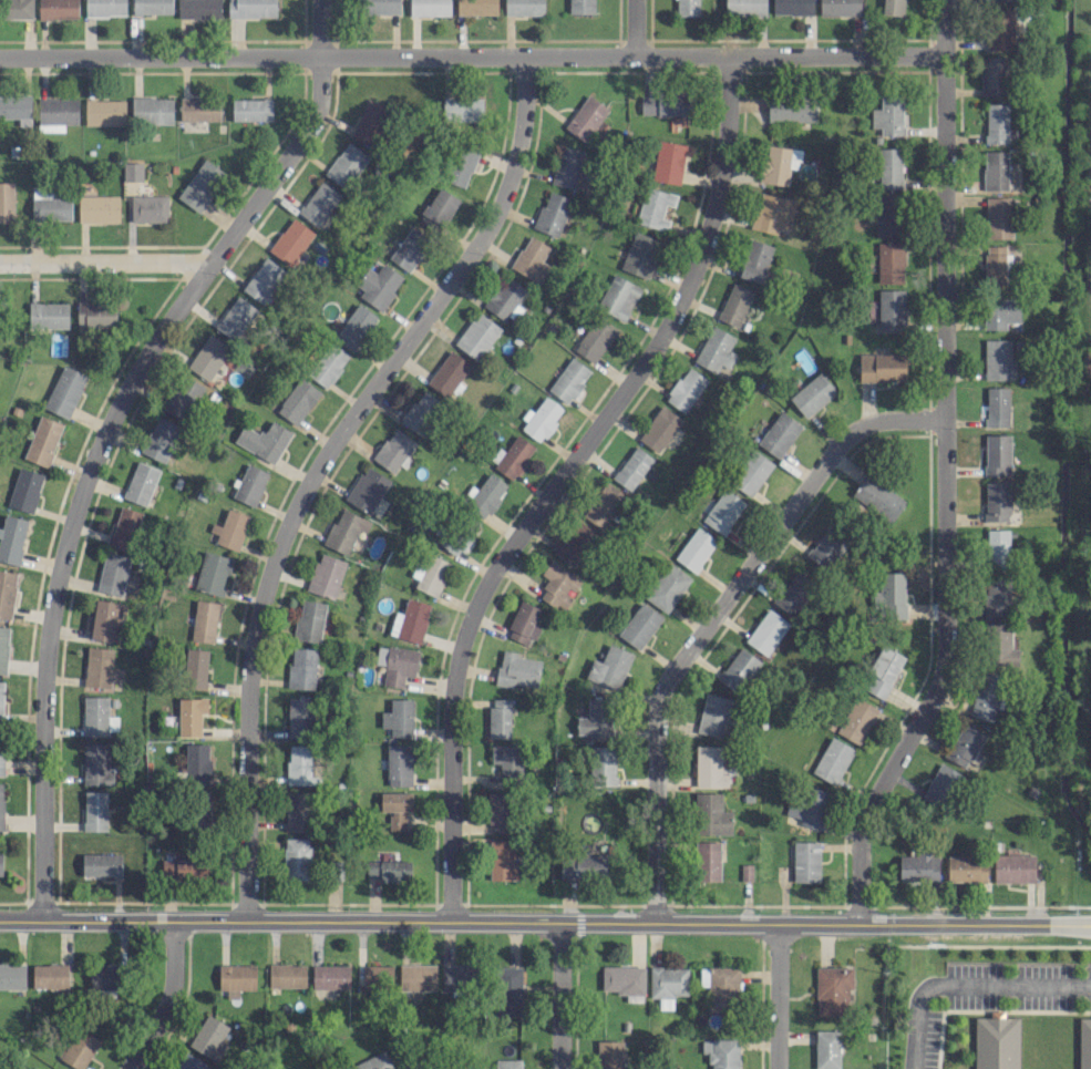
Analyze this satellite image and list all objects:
building: (1003, 0)
building: (380, 6)
building: (581, 6)
building: (104, 7)
building: (152, 7)
building: (476, 7)
building: (524, 7)
building: (686, 7)
building: (792, 7)
building: (838, 7)
building: (892, 7)
building: (17, 8)
building: (58, 8)
building: (251, 8)
building: (430, 8)
building: (744, 8)
building: (199, 9)
road: (632, 28)
building: (1001, 28)
road: (470, 56)
building: (992, 75)
building: (662, 104)
building: (17, 107)
building: (199, 109)
building: (250, 109)
building: (462, 109)
building: (792, 109)
building: (152, 110)
building: (104, 112)
building: (56, 113)
building: (888, 115)
building: (587, 117)
building: (996, 122)
building: (369, 123)
building: (668, 162)
building: (779, 163)
building: (346, 164)
building: (461, 164)
building: (567, 166)
building: (889, 167)
building: (995, 169)
building: (132, 171)
building: (200, 185)
building: (7, 202)
building: (319, 203)
building: (50, 207)
building: (655, 207)
building: (97, 208)
building: (148, 208)
building: (438, 209)
building: (772, 212)
building: (553, 214)
building: (886, 214)
building: (998, 217)
building: (290, 240)
building: (409, 248)
building: (640, 254)
building: (531, 259)
building: (754, 260)
road: (101, 261)
building: (891, 261)
building: (995, 265)
building: (264, 279)
building: (378, 285)
building: (618, 297)
building: (505, 298)
building: (735, 304)
building: (891, 309)
building: (1000, 311)
building: (95, 313)
building: (48, 315)
building: (235, 317)
building: (354, 326)
building: (477, 335)
building: (595, 339)
building: (716, 349)
building: (207, 357)
building: (997, 358)
building: (328, 364)
building: (882, 367)
building: (447, 372)
building: (569, 379)
building: (686, 389)
building: (65, 390)
building: (812, 394)
building: (183, 398)
building: (297, 400)
building: (997, 405)
building: (421, 411)
building: (541, 419)
building: (659, 429)
road: (104, 432)
building: (779, 433)
building: (159, 439)
building: (42, 440)
building: (264, 440)
building: (393, 450)
building: (997, 453)
building: (512, 456)
road: (319, 465)
building: (631, 467)
road: (941, 470)
building: (751, 472)
road: (559, 479)
building: (140, 482)
building: (249, 484)
building: (24, 489)
building: (367, 490)
building: (486, 494)
building: (878, 497)
building: (996, 501)
building: (604, 504)
building: (723, 511)
building: (124, 527)
building: (229, 528)
building: (344, 531)
building: (11, 537)
building: (451, 541)
building: (575, 543)
building: (997, 547)
building: (694, 548)
building: (826, 549)
building: (112, 573)
building: (213, 573)
building: (430, 574)
building: (326, 575)
building: (558, 584)
building: (667, 587)
building: (7, 592)
building: (793, 593)
building: (891, 596)
building: (996, 597)
road: (711, 614)
building: (103, 619)
building: (309, 619)
building: (205, 620)
building: (410, 620)
building: (523, 623)
building: (639, 625)
building: (766, 631)
building: (999, 645)
building: (3, 648)
building: (395, 664)
building: (97, 666)
building: (301, 667)
building: (609, 667)
building: (195, 668)
building: (516, 669)
building: (739, 669)
building: (882, 671)
building: (987, 695)
building: (1, 700)
building: (191, 715)
building: (714, 715)
building: (97, 716)
building: (300, 716)
building: (398, 717)
building: (498, 717)
building: (595, 719)
building: (856, 720)
building: (964, 744)
building: (1, 750)
building: (506, 759)
building: (832, 760)
building: (95, 762)
building: (197, 762)
building: (299, 764)
building: (399, 764)
building: (603, 765)
building: (710, 765)
building: (940, 785)
building: (807, 806)
building: (1, 808)
building: (395, 808)
building: (94, 810)
building: (296, 811)
building: (498, 811)
building: (711, 814)
building: (296, 859)
building: (502, 860)
building: (707, 860)
building: (805, 861)
building: (0, 863)
building: (101, 864)
building: (583, 865)
building: (918, 866)
building: (966, 867)
building: (1013, 867)
building: (184, 868)
building: (388, 870)
road: (545, 918)
building: (12, 975)
building: (49, 975)
building: (287, 975)
building: (330, 976)
building: (377, 976)
building: (418, 977)
building: (456, 977)
building: (236, 978)
building: (105, 979)
building: (624, 980)
building: (667, 984)
road: (965, 984)
building: (720, 986)
building: (507, 989)
building: (832, 989)
road: (560, 994)
road: (776, 995)
road: (165, 998)
building: (209, 1037)
building: (996, 1041)
building: (1084, 1044)
building: (80, 1048)
building: (826, 1049)
building: (721, 1052)
building: (609, 1055)
building: (188, 1061)
building: (373, 1062)
building: (507, 1063)
building: (410, 1067)

